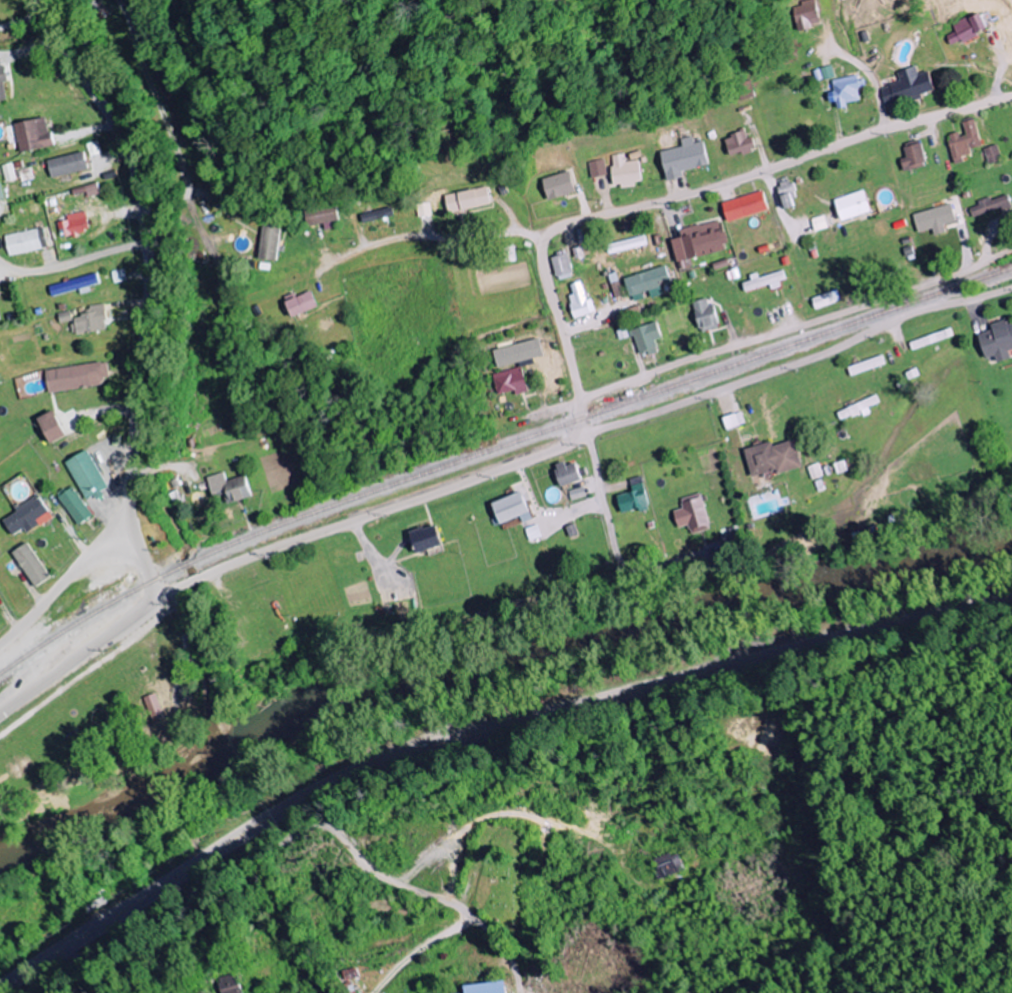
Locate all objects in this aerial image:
building: (807, 15)
road: (20, 19)
building: (967, 30)
building: (825, 74)
building: (2, 87)
building: (908, 89)
building: (847, 92)
road: (878, 95)
road: (166, 134)
building: (32, 136)
building: (965, 143)
building: (739, 145)
building: (992, 155)
building: (913, 158)
building: (684, 159)
building: (67, 166)
building: (596, 169)
building: (624, 172)
building: (8, 173)
building: (558, 187)
building: (1, 195)
road: (678, 196)
building: (788, 196)
building: (466, 201)
building: (745, 207)
building: (853, 207)
building: (991, 208)
building: (423, 210)
building: (376, 216)
building: (321, 217)
building: (935, 220)
building: (73, 226)
road: (445, 238)
building: (699, 242)
building: (22, 243)
building: (268, 243)
building: (561, 267)
building: (118, 276)
building: (764, 282)
road: (144, 285)
building: (646, 285)
building: (73, 286)
building: (826, 300)
building: (579, 302)
building: (300, 305)
building: (0, 316)
building: (705, 316)
building: (64, 318)
building: (89, 321)
road: (796, 327)
building: (645, 339)
building: (998, 342)
building: (517, 353)
road: (799, 362)
building: (867, 366)
building: (76, 377)
building: (509, 382)
building: (858, 409)
building: (733, 421)
building: (51, 426)
railway: (495, 445)
building: (774, 458)
building: (566, 473)
building: (85, 474)
building: (228, 487)
building: (575, 493)
building: (633, 497)
building: (74, 506)
road: (147, 507)
building: (510, 508)
building: (692, 514)
road: (366, 515)
building: (27, 517)
building: (423, 538)
road: (611, 538)
building: (31, 565)
road: (66, 581)
road: (165, 603)
road: (186, 656)
road: (76, 657)
river: (487, 667)
building: (153, 707)
road: (481, 729)
road: (272, 850)
building: (666, 865)
road: (459, 915)
building: (347, 974)
building: (225, 984)
building: (483, 988)

